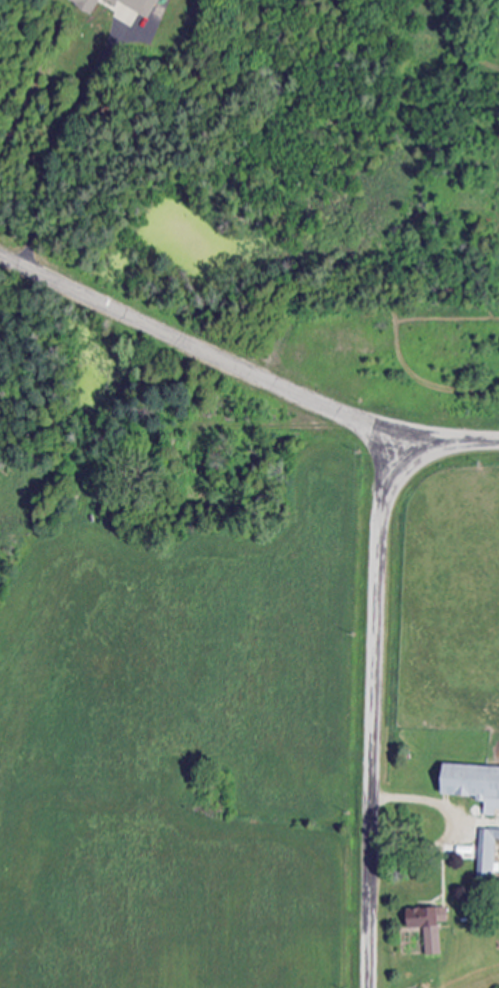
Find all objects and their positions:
building: (82, 4)
building: (135, 5)
road: (71, 149)
road: (246, 368)
road: (374, 714)
building: (471, 784)
road: (458, 824)
building: (487, 854)
building: (425, 925)

